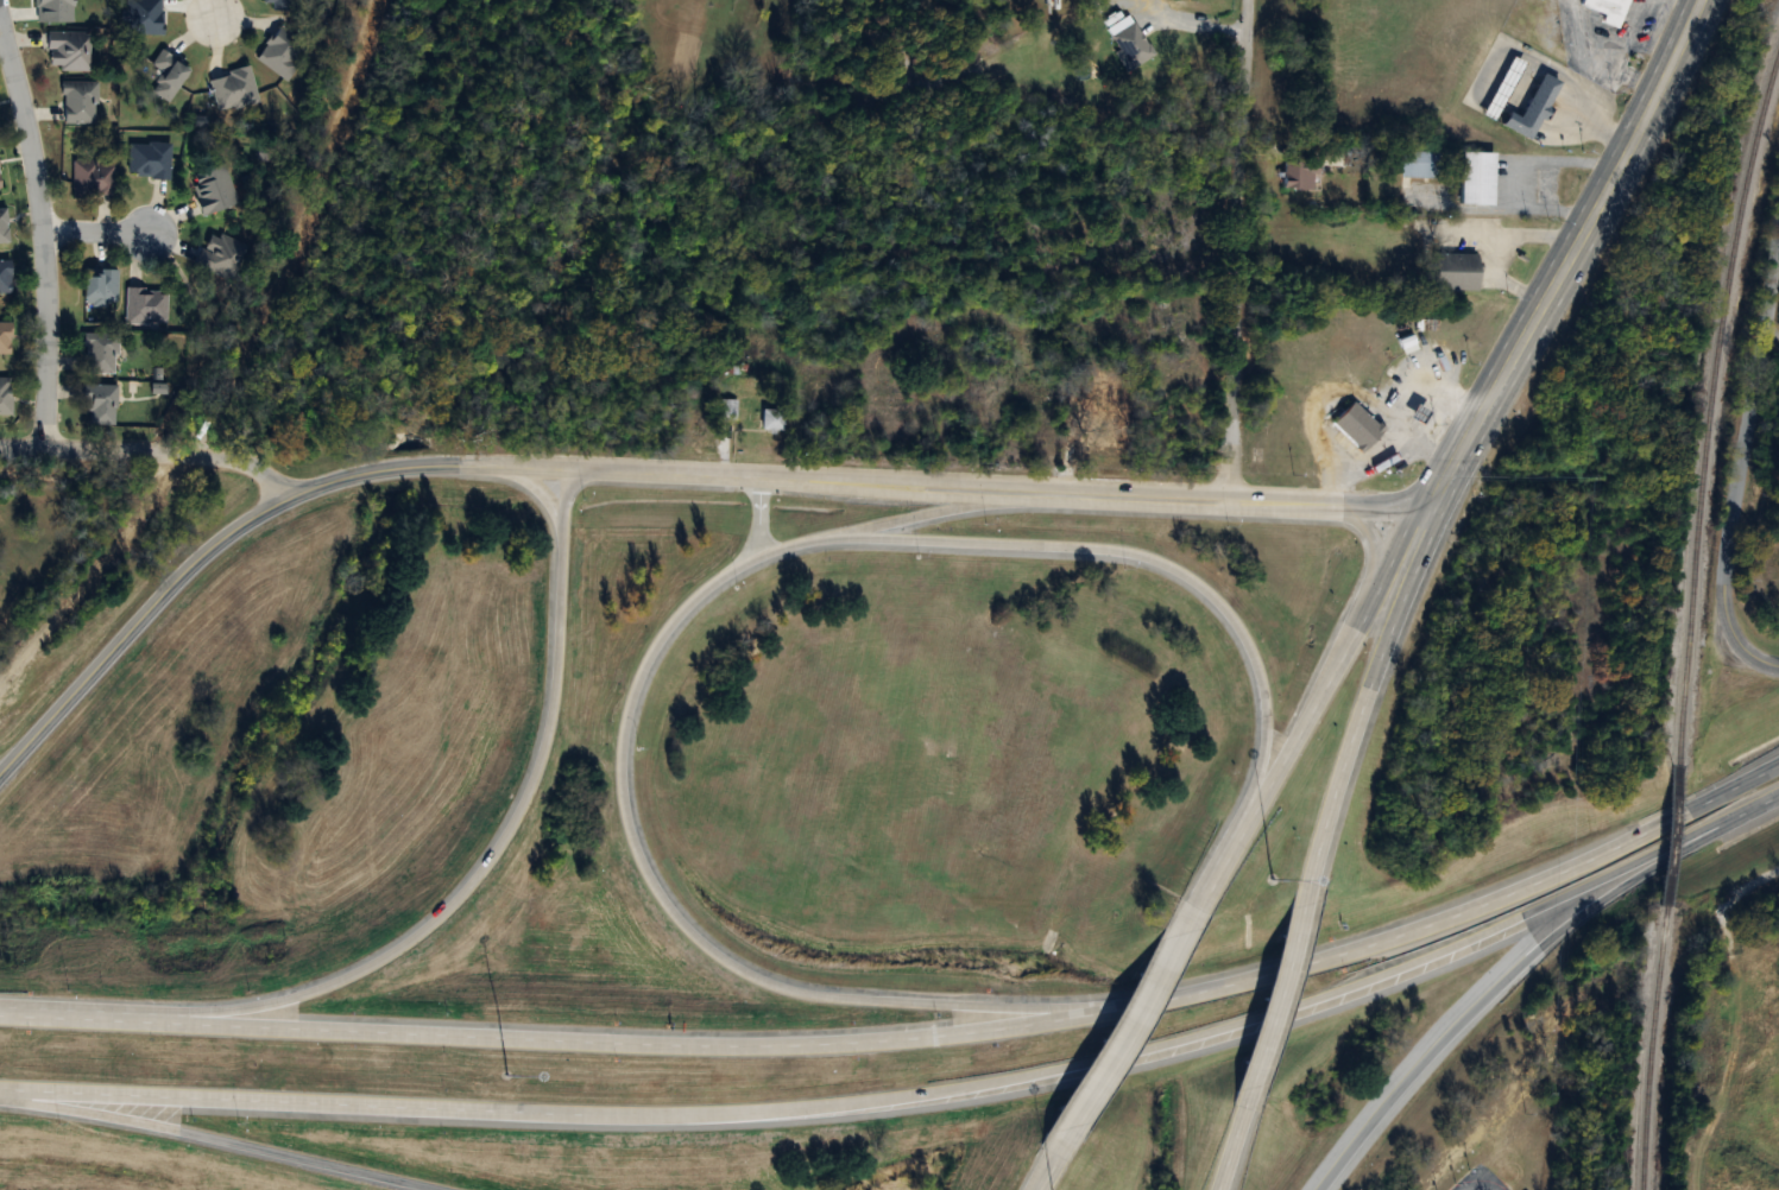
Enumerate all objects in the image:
road: (1691, 2)
building: (1607, 7)
road: (213, 12)
building: (1130, 43)
building: (69, 51)
building: (283, 51)
road: (1619, 51)
road: (1671, 62)
building: (169, 76)
building: (1503, 89)
building: (80, 103)
building: (1538, 107)
building: (150, 162)
building: (1418, 165)
building: (1300, 175)
building: (94, 179)
building: (1477, 179)
building: (0, 185)
building: (214, 191)
building: (4, 227)
road: (42, 230)
road: (96, 233)
road: (1239, 251)
building: (221, 255)
building: (1457, 272)
building: (5, 277)
building: (101, 287)
building: (147, 305)
road: (1535, 316)
road: (1771, 336)
building: (6, 338)
building: (101, 353)
building: (5, 397)
building: (100, 405)
building: (1112, 406)
railway: (1714, 409)
building: (730, 410)
building: (771, 420)
building: (1356, 424)
road: (151, 449)
road: (1741, 466)
road: (421, 468)
road: (92, 475)
road: (992, 489)
road: (926, 513)
road: (757, 518)
road: (1134, 555)
road: (134, 626)
road: (1343, 651)
road: (1367, 703)
road: (1753, 809)
railway: (1674, 847)
road: (1222, 862)
road: (475, 872)
road: (660, 894)
road: (1503, 982)
road: (1173, 998)
road: (1279, 998)
road: (261, 1025)
road: (1122, 1040)
road: (1142, 1047)
railway: (1659, 1061)
road: (260, 1100)
road: (219, 1140)
road: (1236, 1142)
road: (1047, 1171)
road: (1488, 1186)
road: (1495, 1186)

